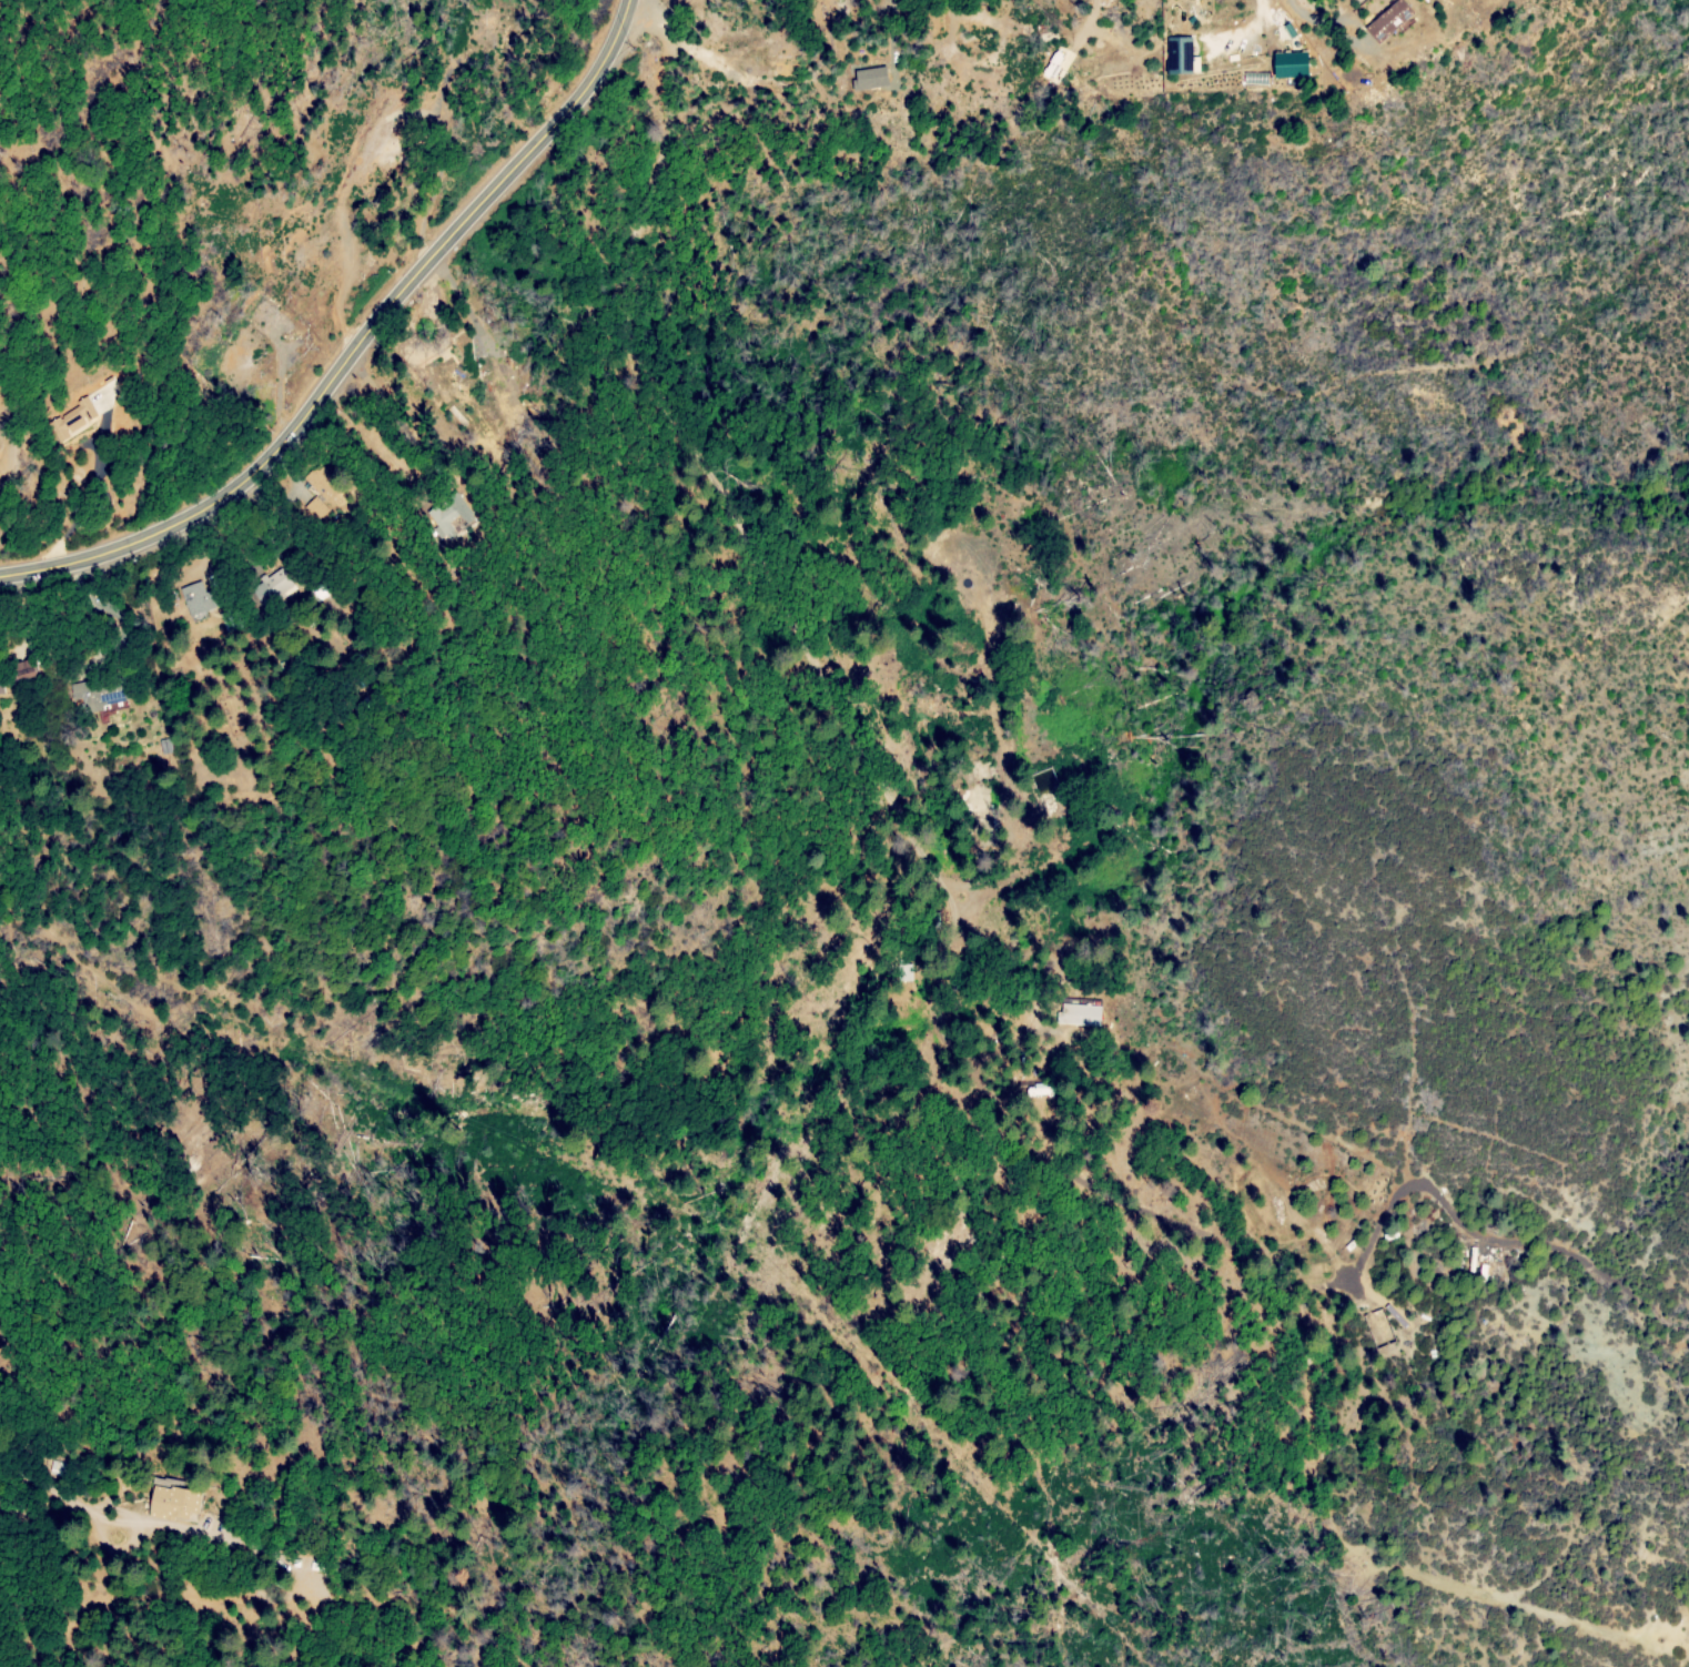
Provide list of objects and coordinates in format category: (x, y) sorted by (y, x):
building: (1387, 21)
building: (1179, 55)
building: (1289, 64)
building: (884, 75)
road: (358, 345)
building: (73, 421)
building: (320, 493)
building: (445, 516)
building: (281, 584)
building: (199, 596)
building: (22, 670)
building: (0, 690)
building: (98, 690)
building: (166, 744)
building: (1051, 792)
building: (1080, 1014)
building: (1390, 1236)
building: (1352, 1244)
road: (869, 1374)
building: (175, 1504)
road: (1454, 1582)
road: (136, 1600)

